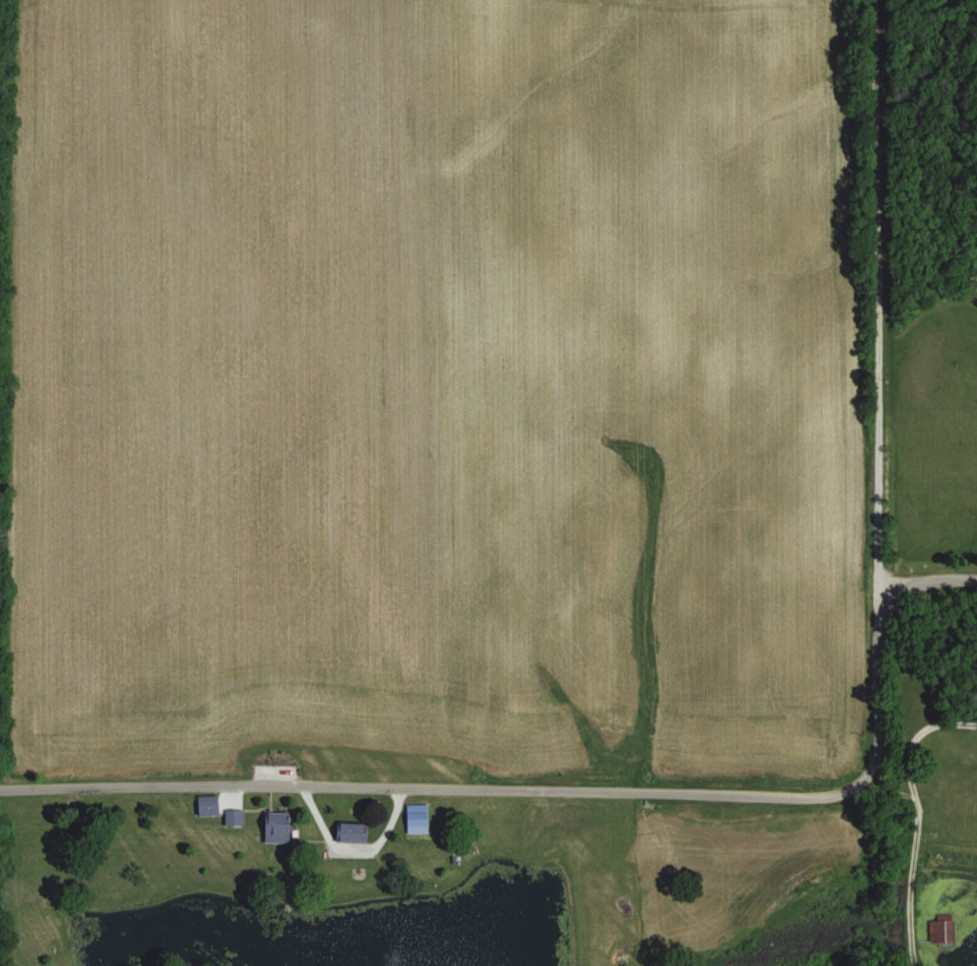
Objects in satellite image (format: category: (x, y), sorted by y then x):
road: (876, 302)
road: (573, 790)
building: (206, 805)
building: (232, 817)
road: (916, 817)
building: (275, 827)
building: (350, 833)

